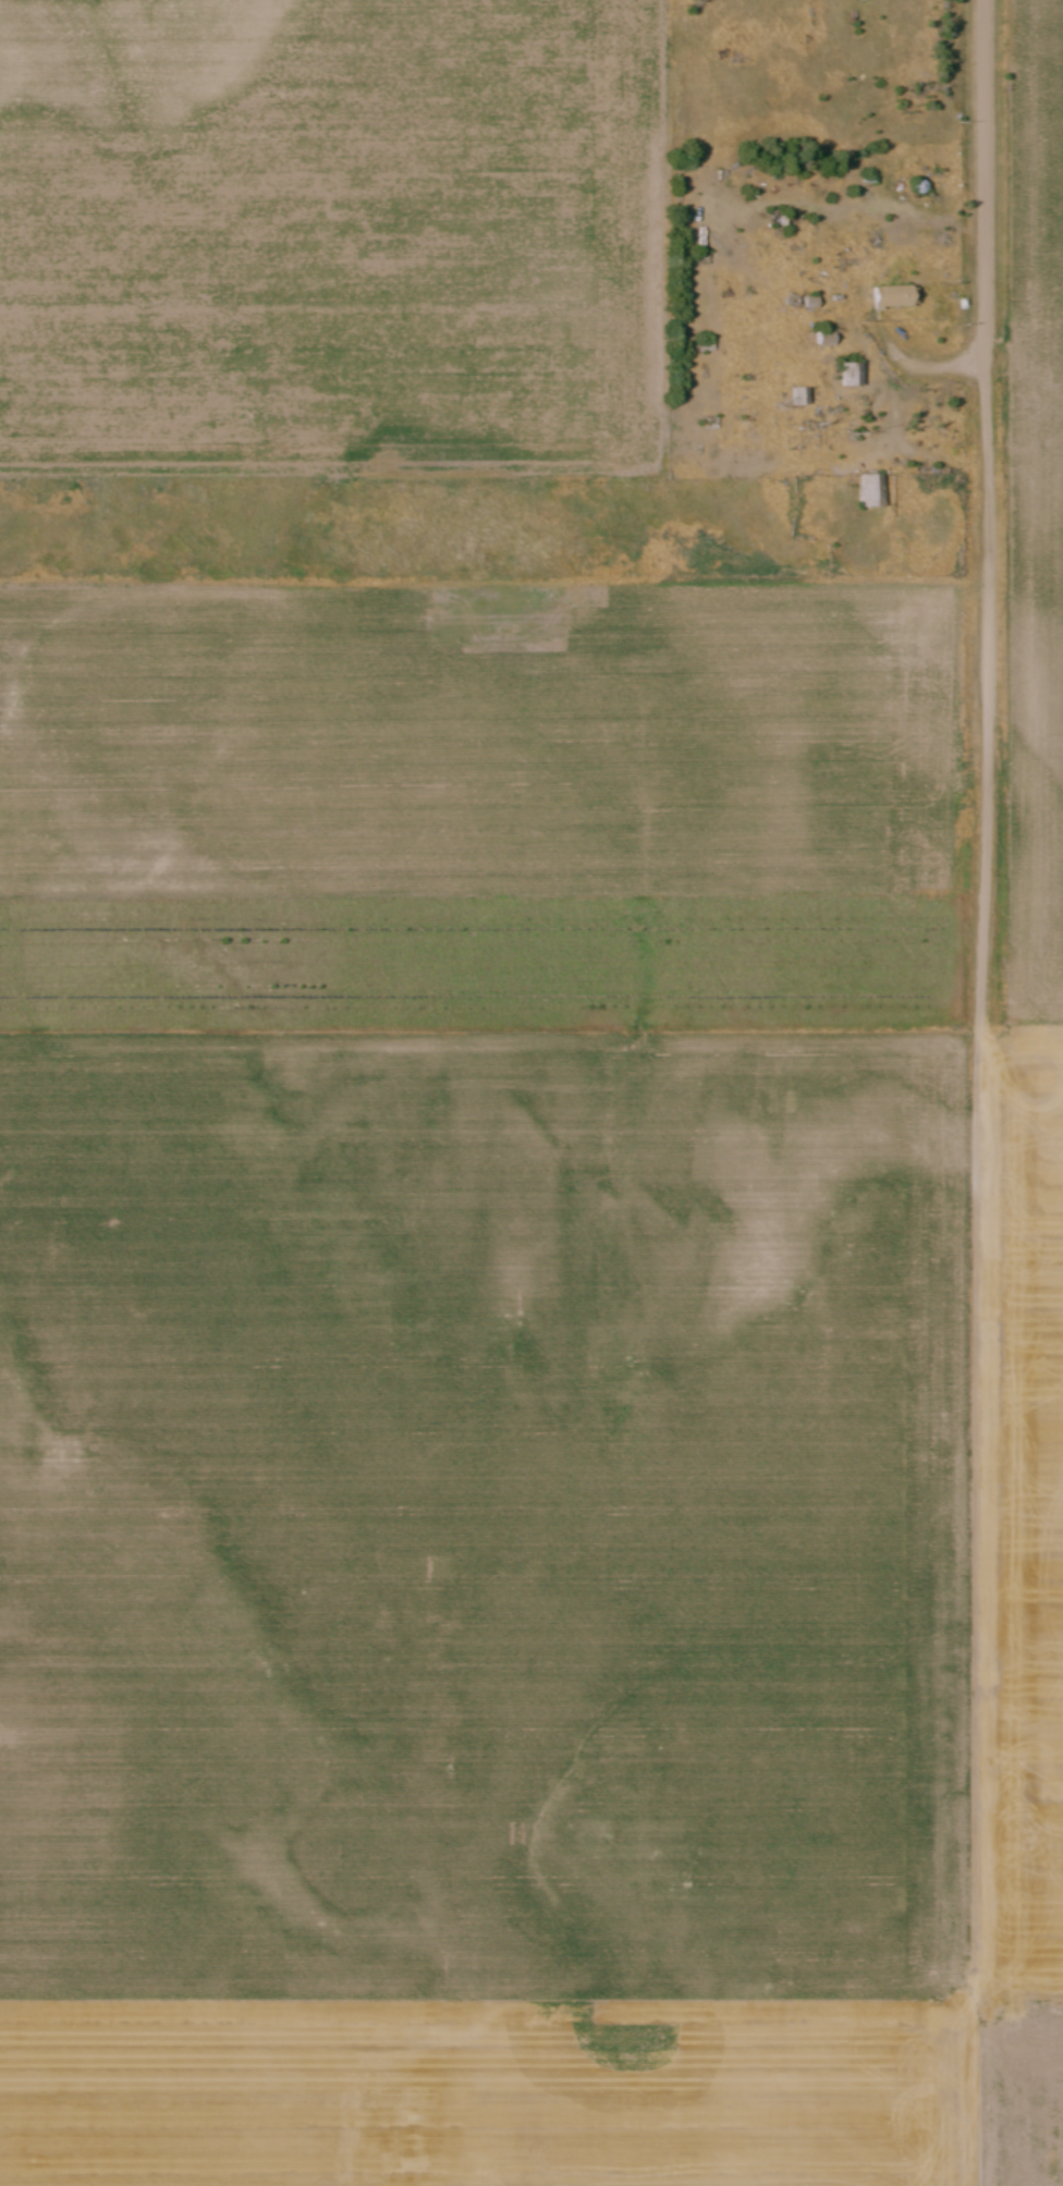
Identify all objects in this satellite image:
building: (896, 297)
building: (853, 376)
building: (801, 398)
road: (981, 974)

